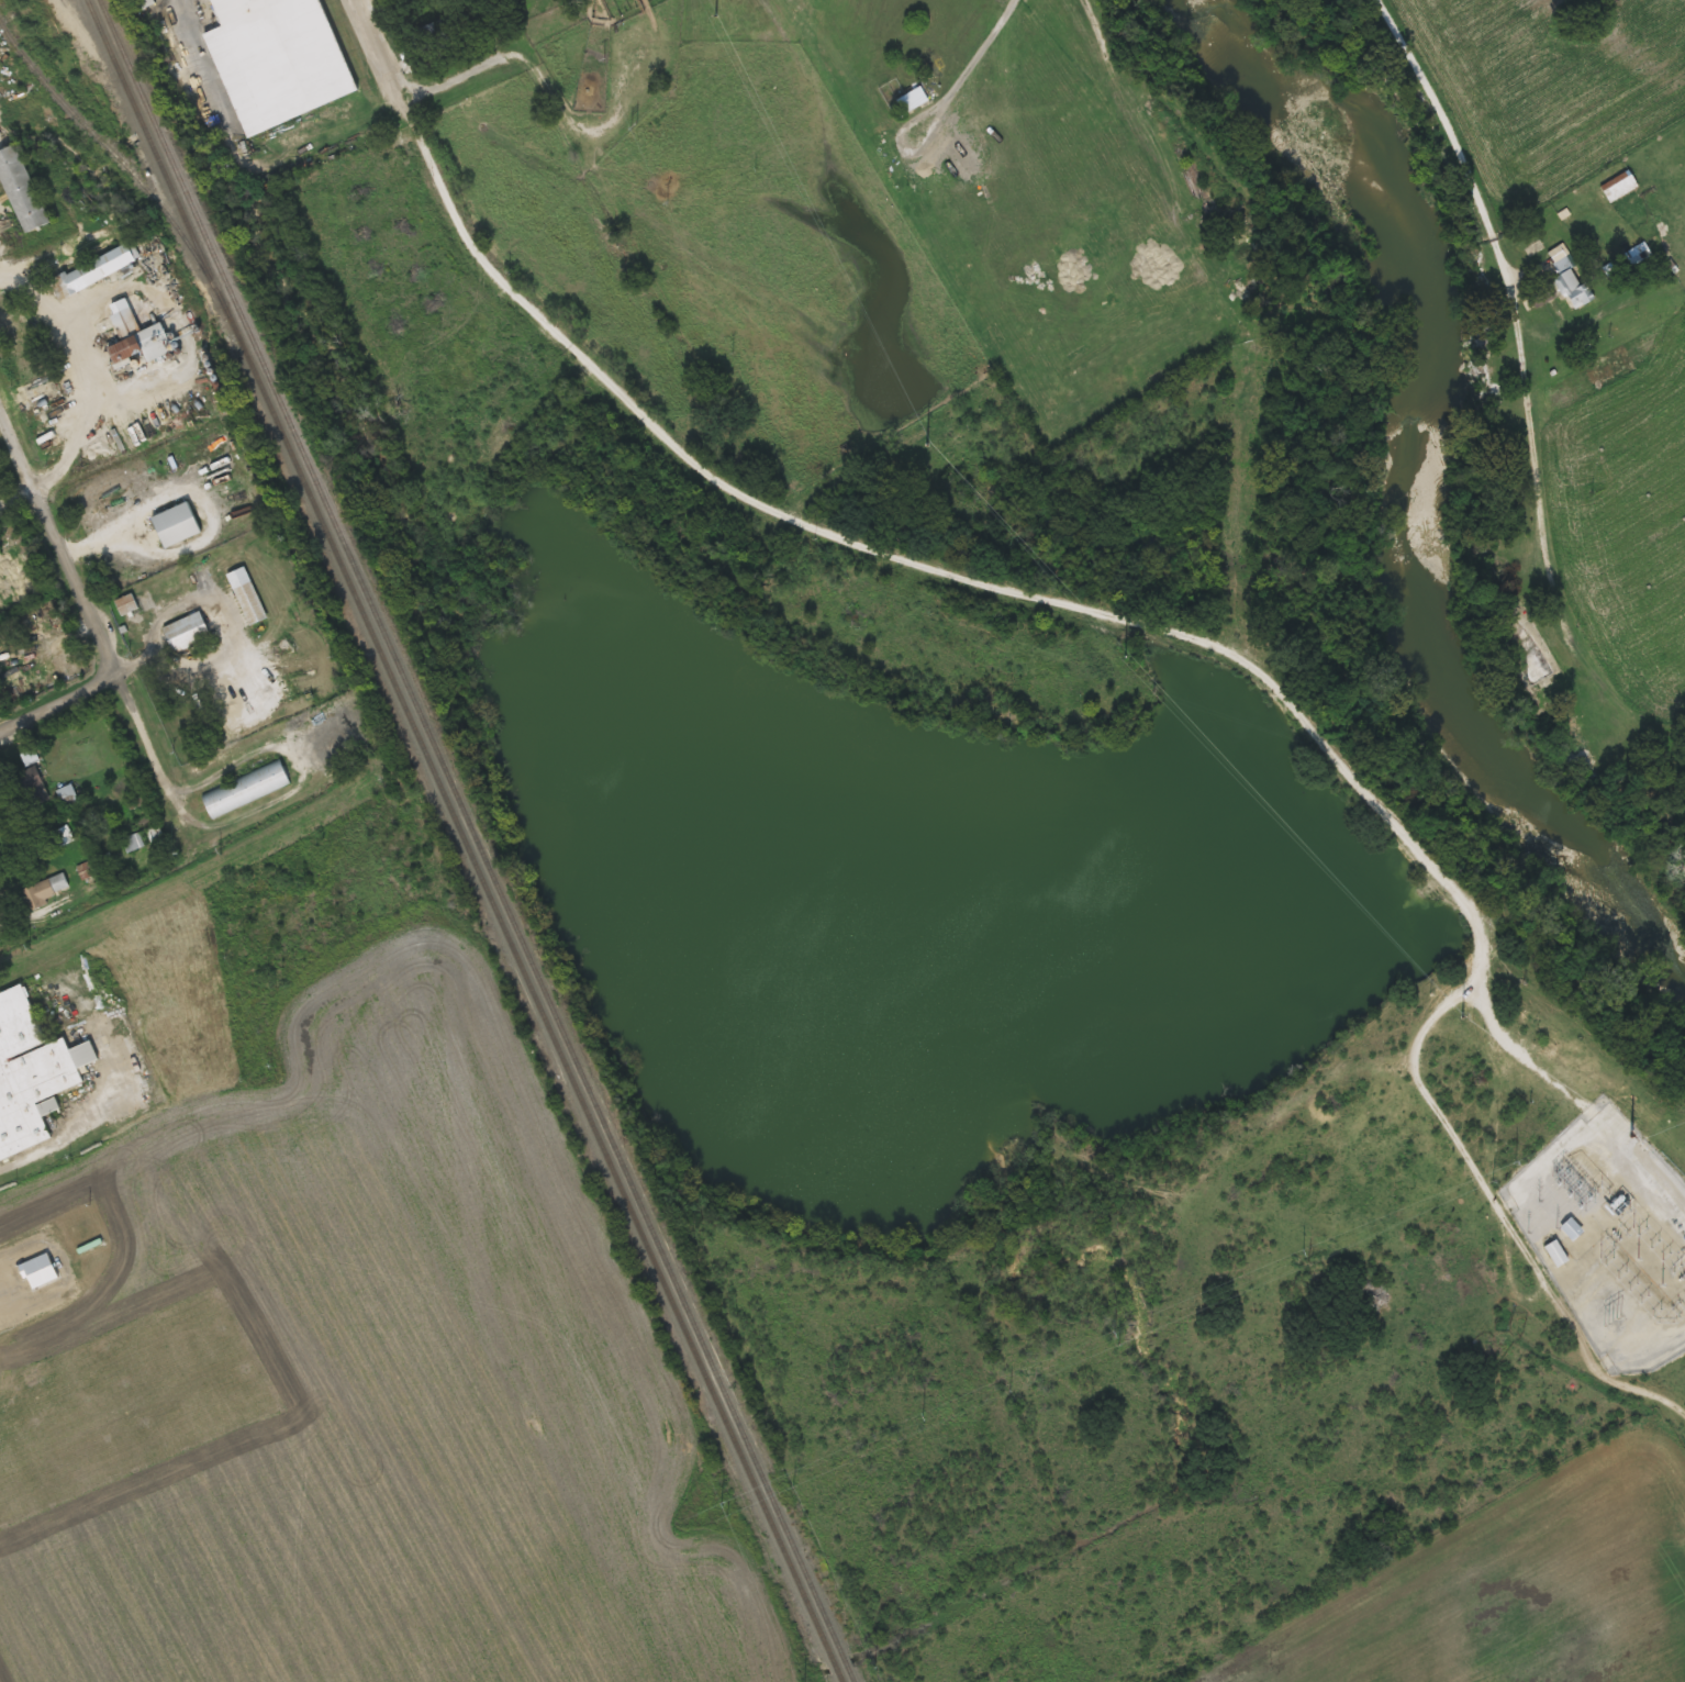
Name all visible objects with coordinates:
building: (148, 4)
power tower: (716, 15)
building: (282, 60)
road: (383, 75)
building: (907, 101)
road: (1454, 107)
building: (665, 121)
building: (1611, 187)
building: (22, 190)
road: (49, 246)
building: (1632, 254)
building: (96, 271)
building: (1554, 285)
building: (130, 352)
power tower: (926, 444)
river: (1416, 477)
road: (16, 506)
building: (180, 525)
road: (845, 539)
building: (249, 597)
road: (87, 619)
building: (189, 632)
power tower: (1125, 657)
road: (57, 704)
building: (248, 788)
railway: (464, 840)
railway: (476, 840)
power tower: (1460, 1017)
building: (29, 1073)
power tower: (1631, 1136)
power tower: (1555, 1228)
building: (1569, 1228)
power substation: (1609, 1236)
building: (1552, 1254)
power tower: (1611, 1321)

